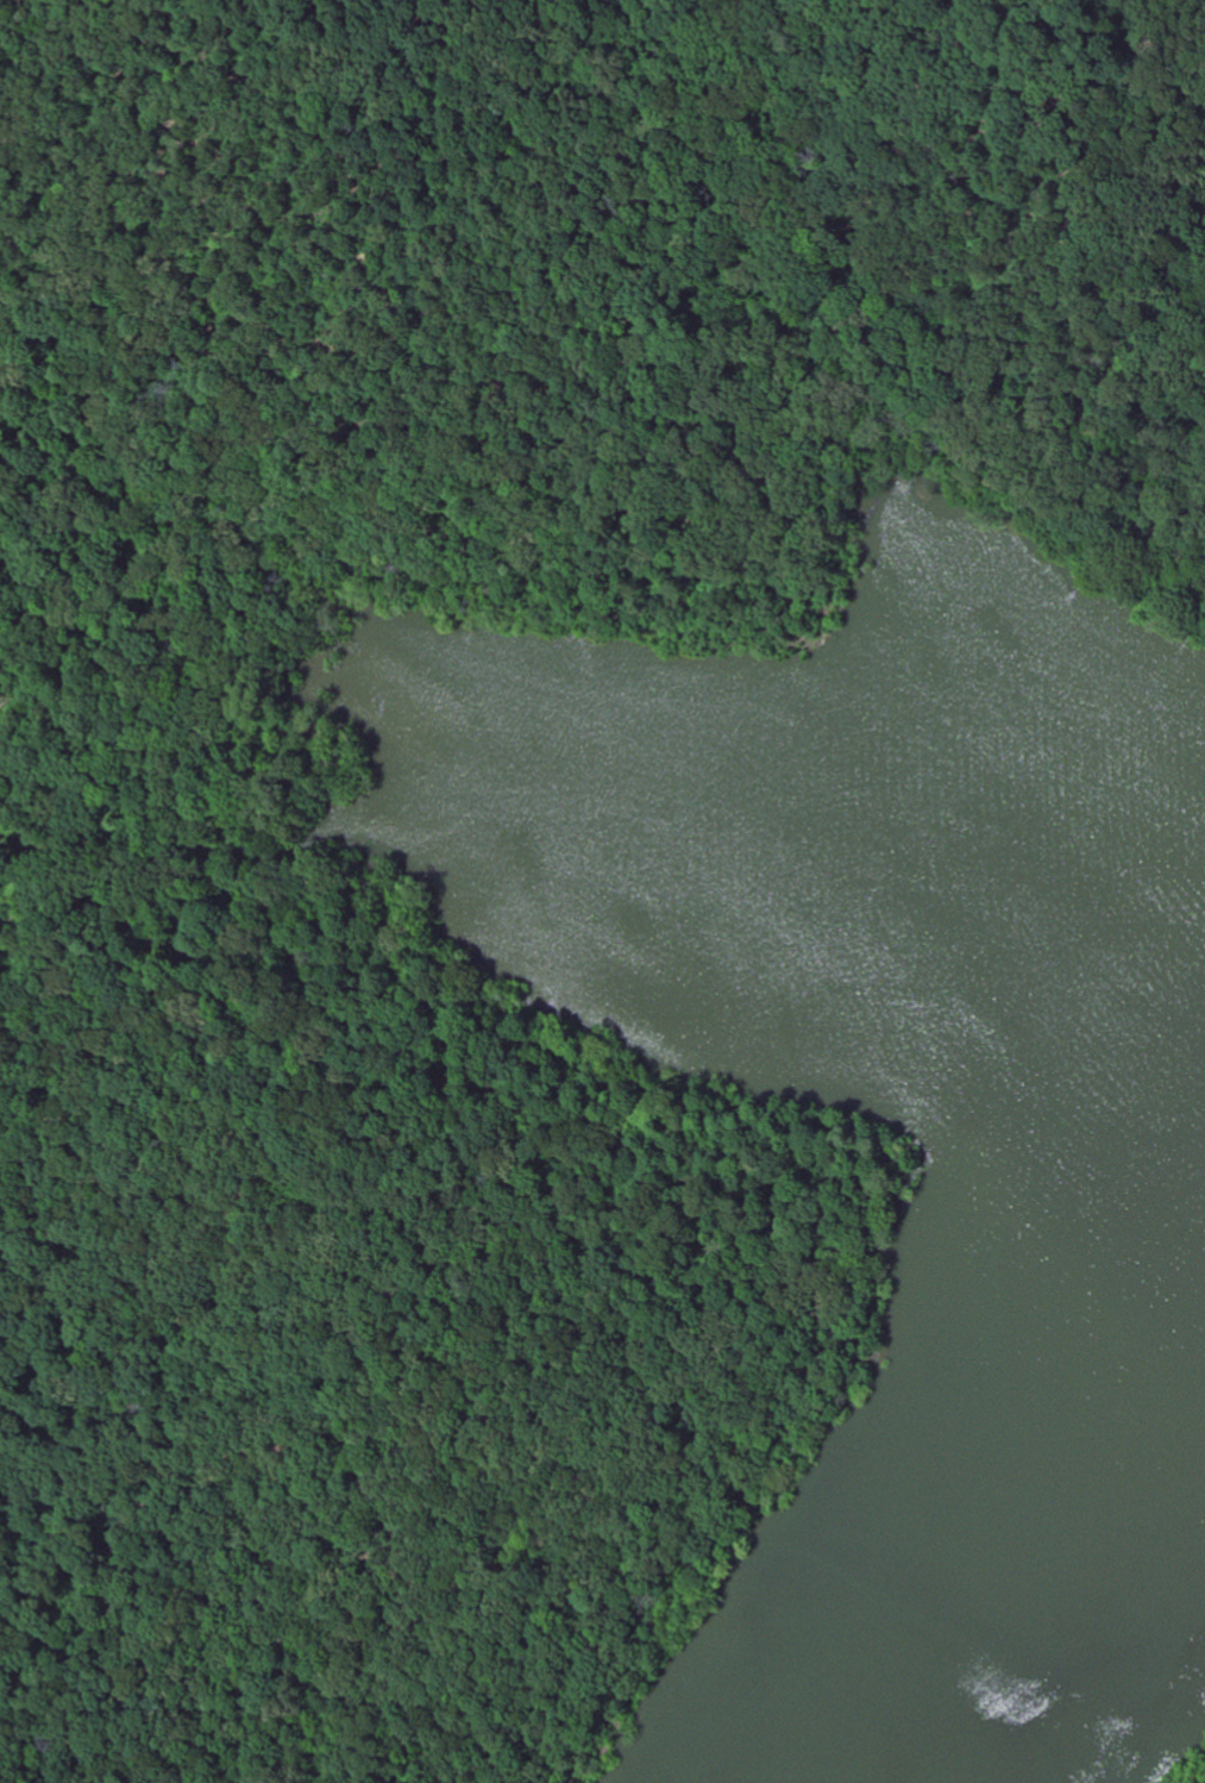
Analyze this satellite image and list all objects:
road: (1115, 175)

